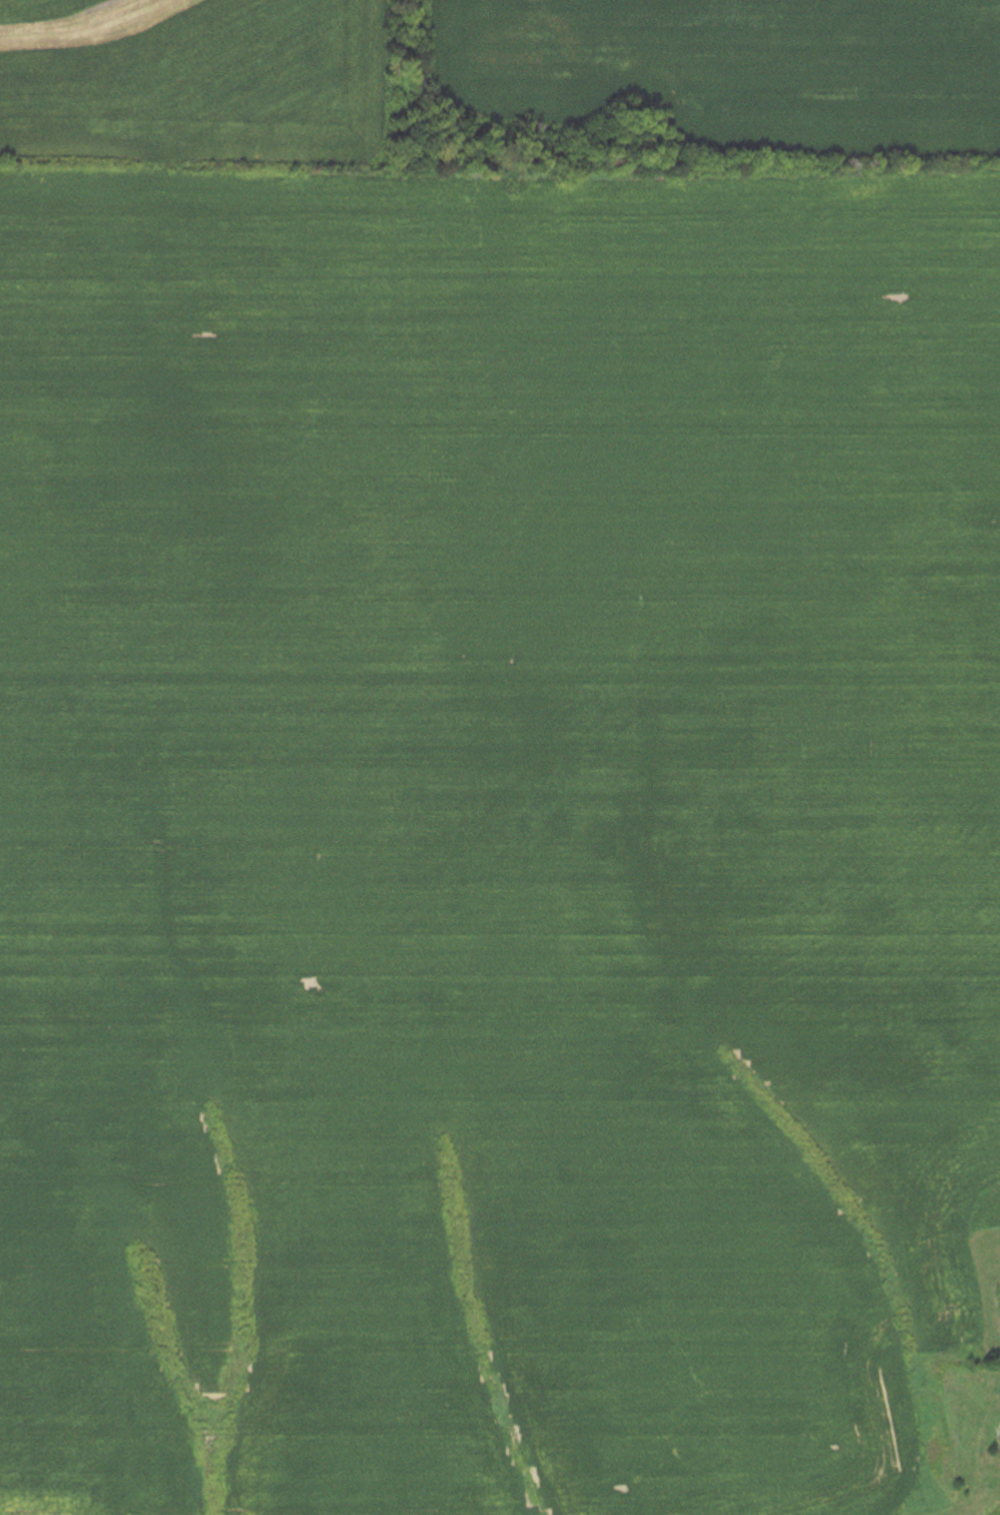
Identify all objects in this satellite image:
building: (999, 1306)

